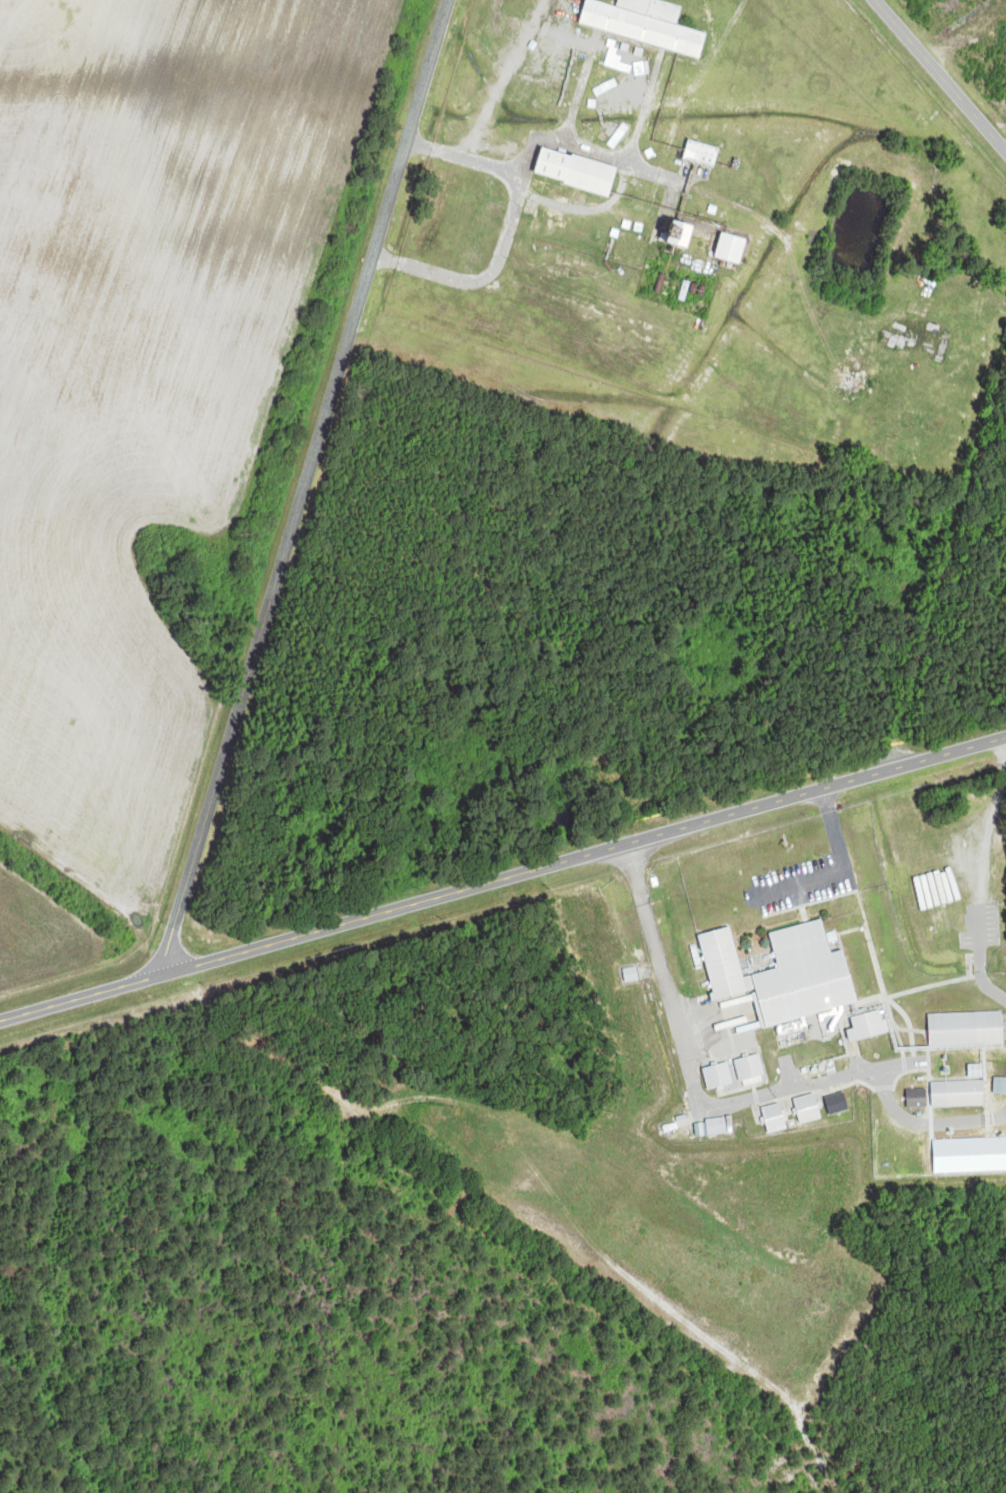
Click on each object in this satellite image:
building: (644, 24)
road: (940, 75)
building: (702, 153)
building: (577, 171)
building: (683, 234)
building: (732, 248)
road: (304, 488)
road: (503, 879)
building: (960, 924)
building: (786, 975)
building: (870, 1027)
building: (967, 1028)
building: (751, 1070)
building: (718, 1077)
building: (959, 1094)
building: (917, 1099)
building: (838, 1104)
building: (809, 1109)
building: (775, 1119)
building: (717, 1127)

